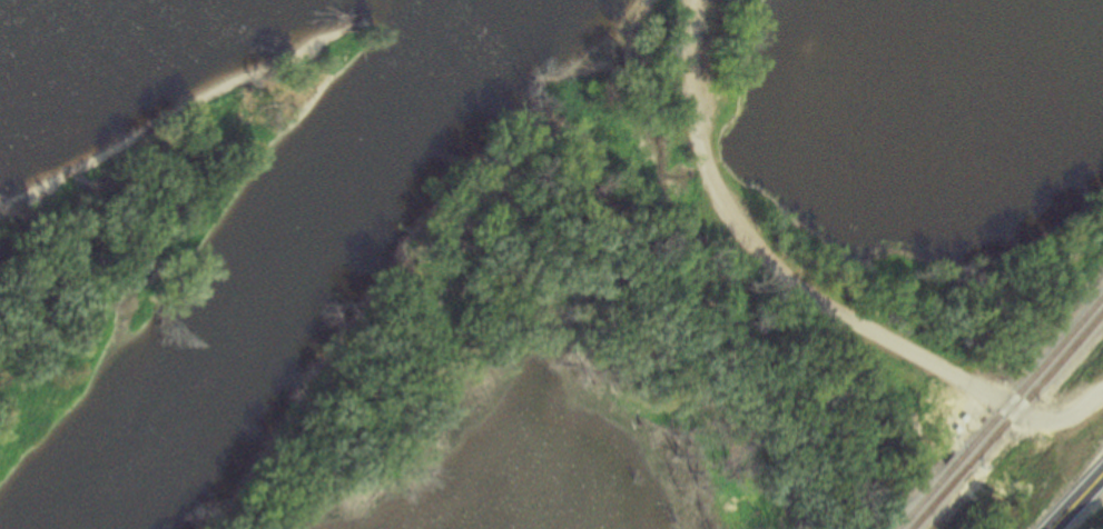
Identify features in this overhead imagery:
road: (726, 291)
road: (800, 295)
railway: (997, 409)
railway: (1006, 418)
road: (1074, 499)

